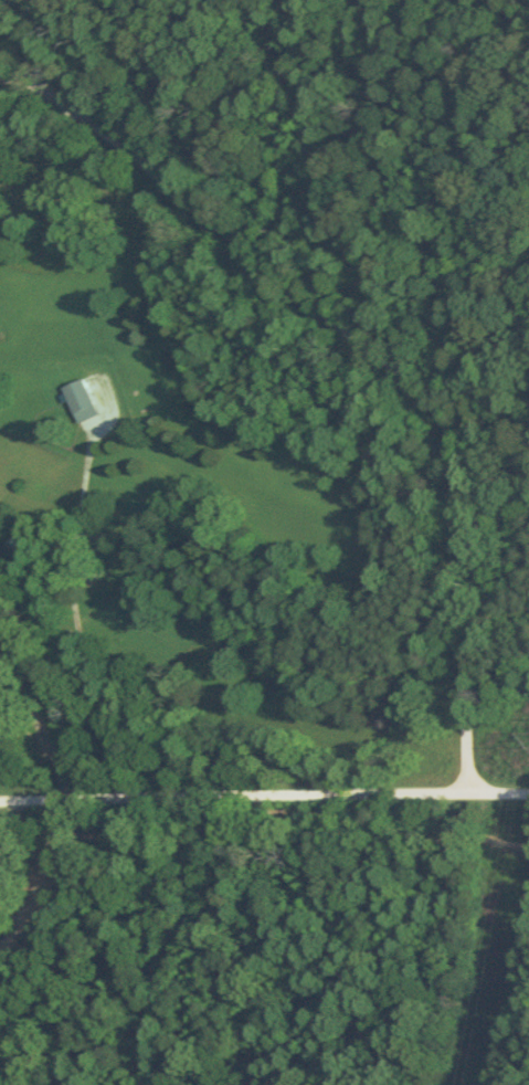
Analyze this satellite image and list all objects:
road: (23, 97)
road: (369, 354)
building: (77, 400)
road: (264, 789)
road: (411, 991)

